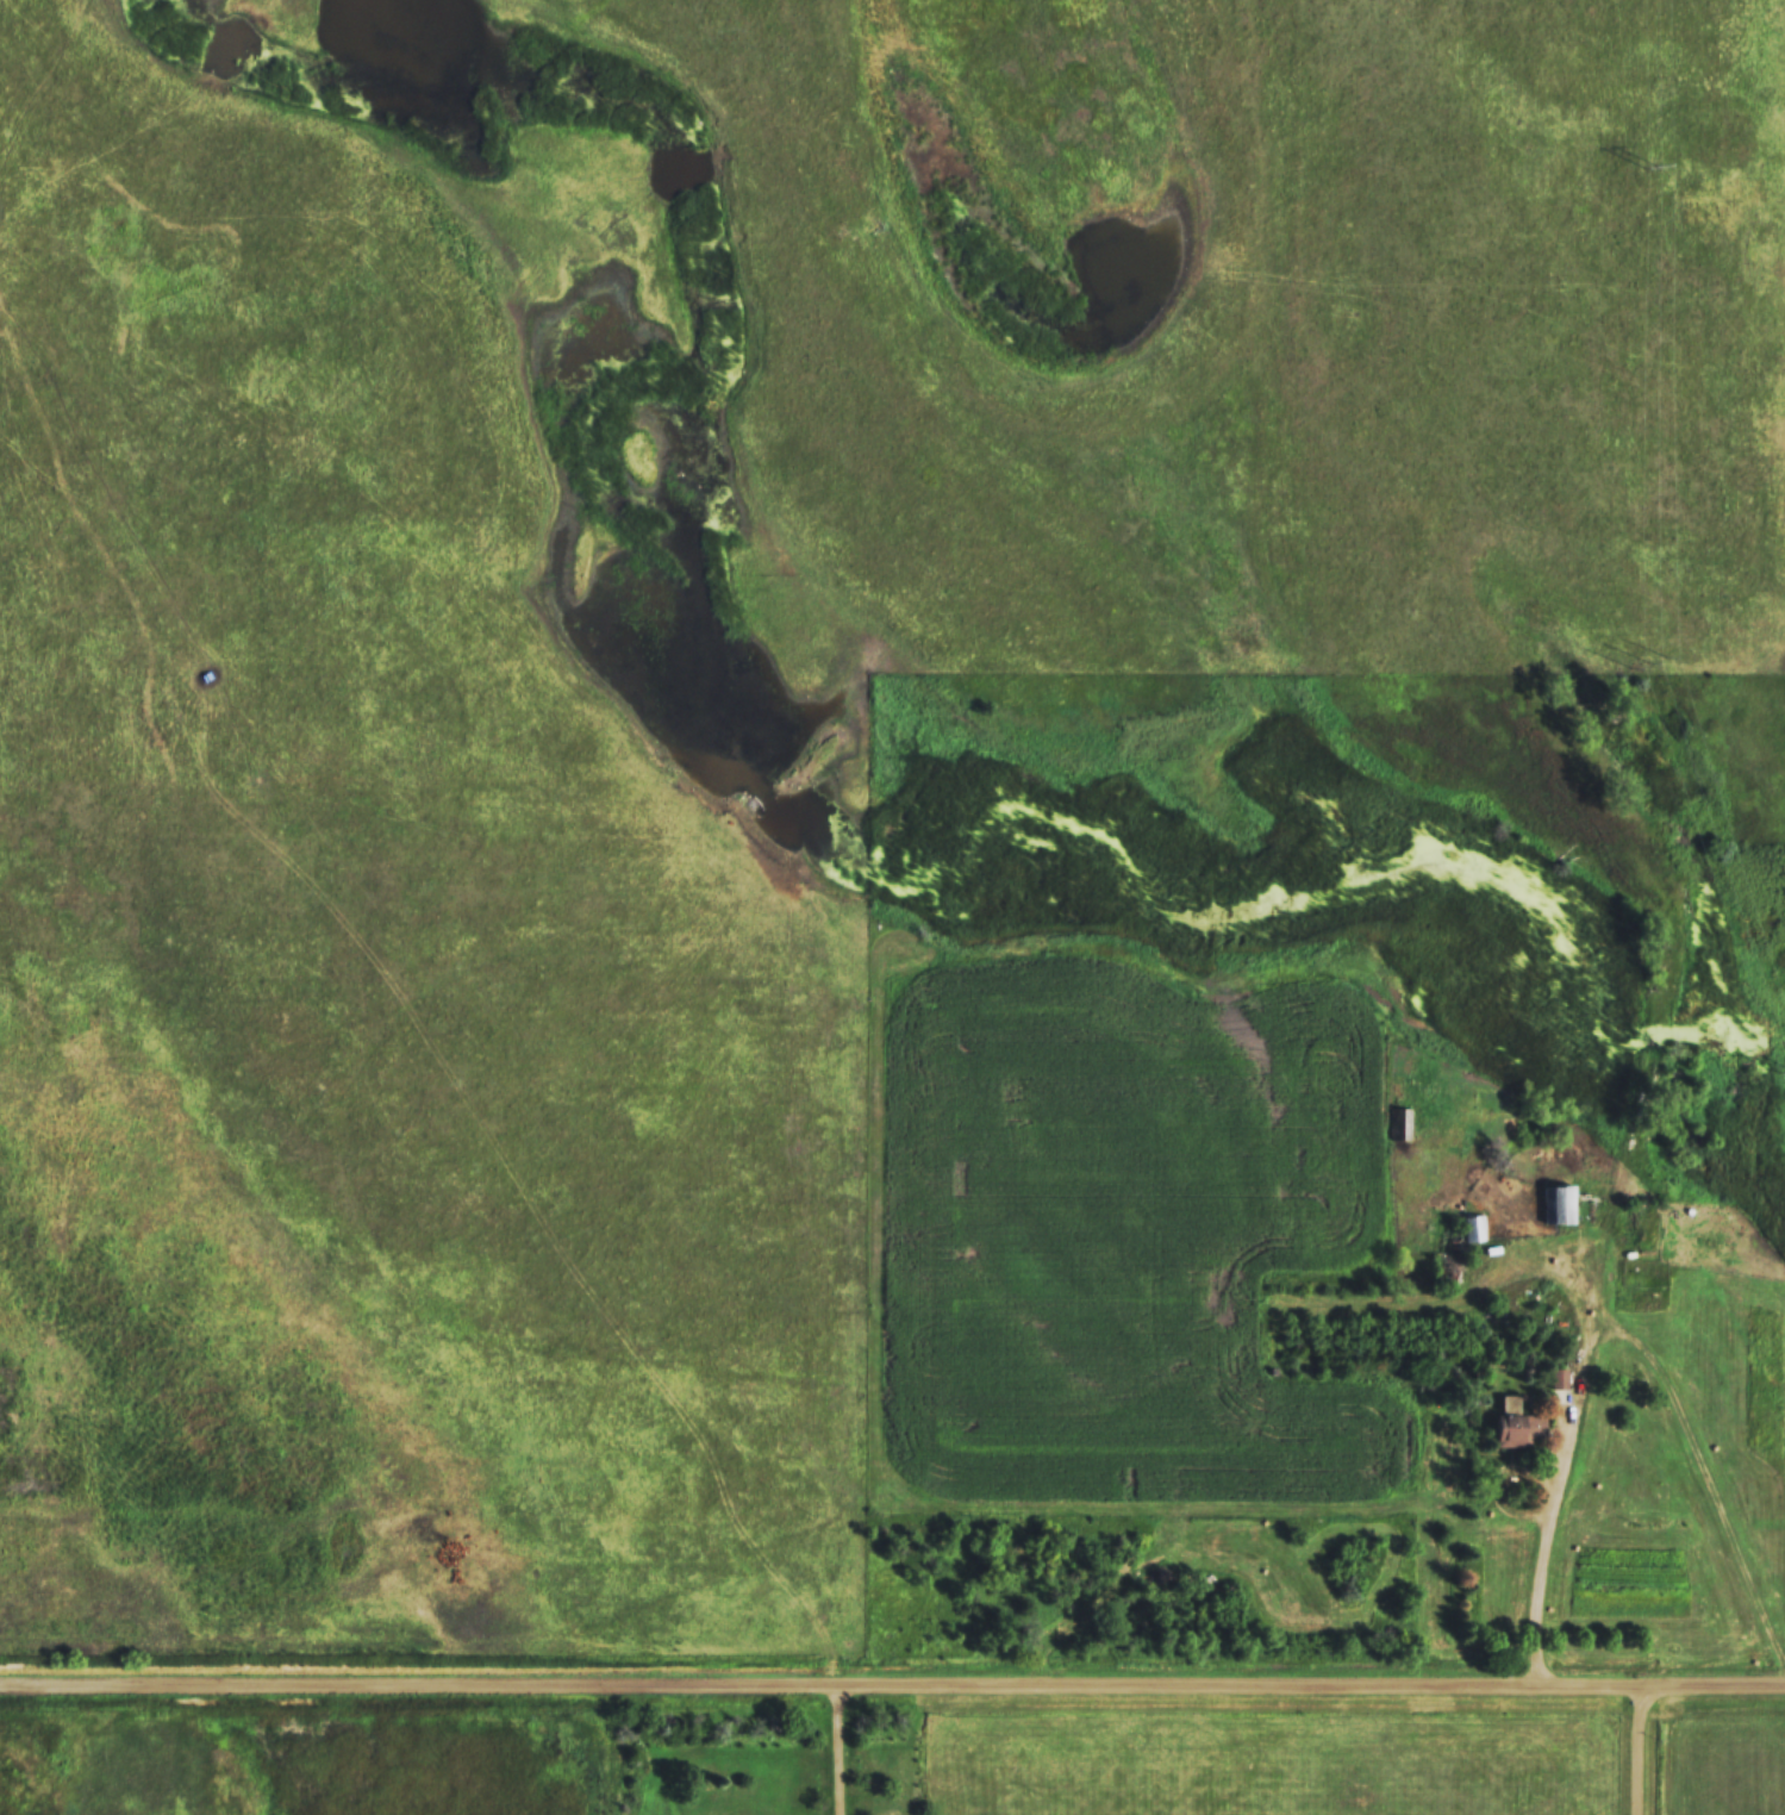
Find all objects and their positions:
power tower: (1649, 167)
power tower: (1647, 662)
power tower: (1781, 1071)
building: (1398, 1124)
building: (1561, 1205)
building: (1471, 1228)
road: (1615, 1339)
building: (1556, 1378)
building: (1515, 1428)
road: (892, 1689)
road: (1637, 1751)
road: (838, 1752)

